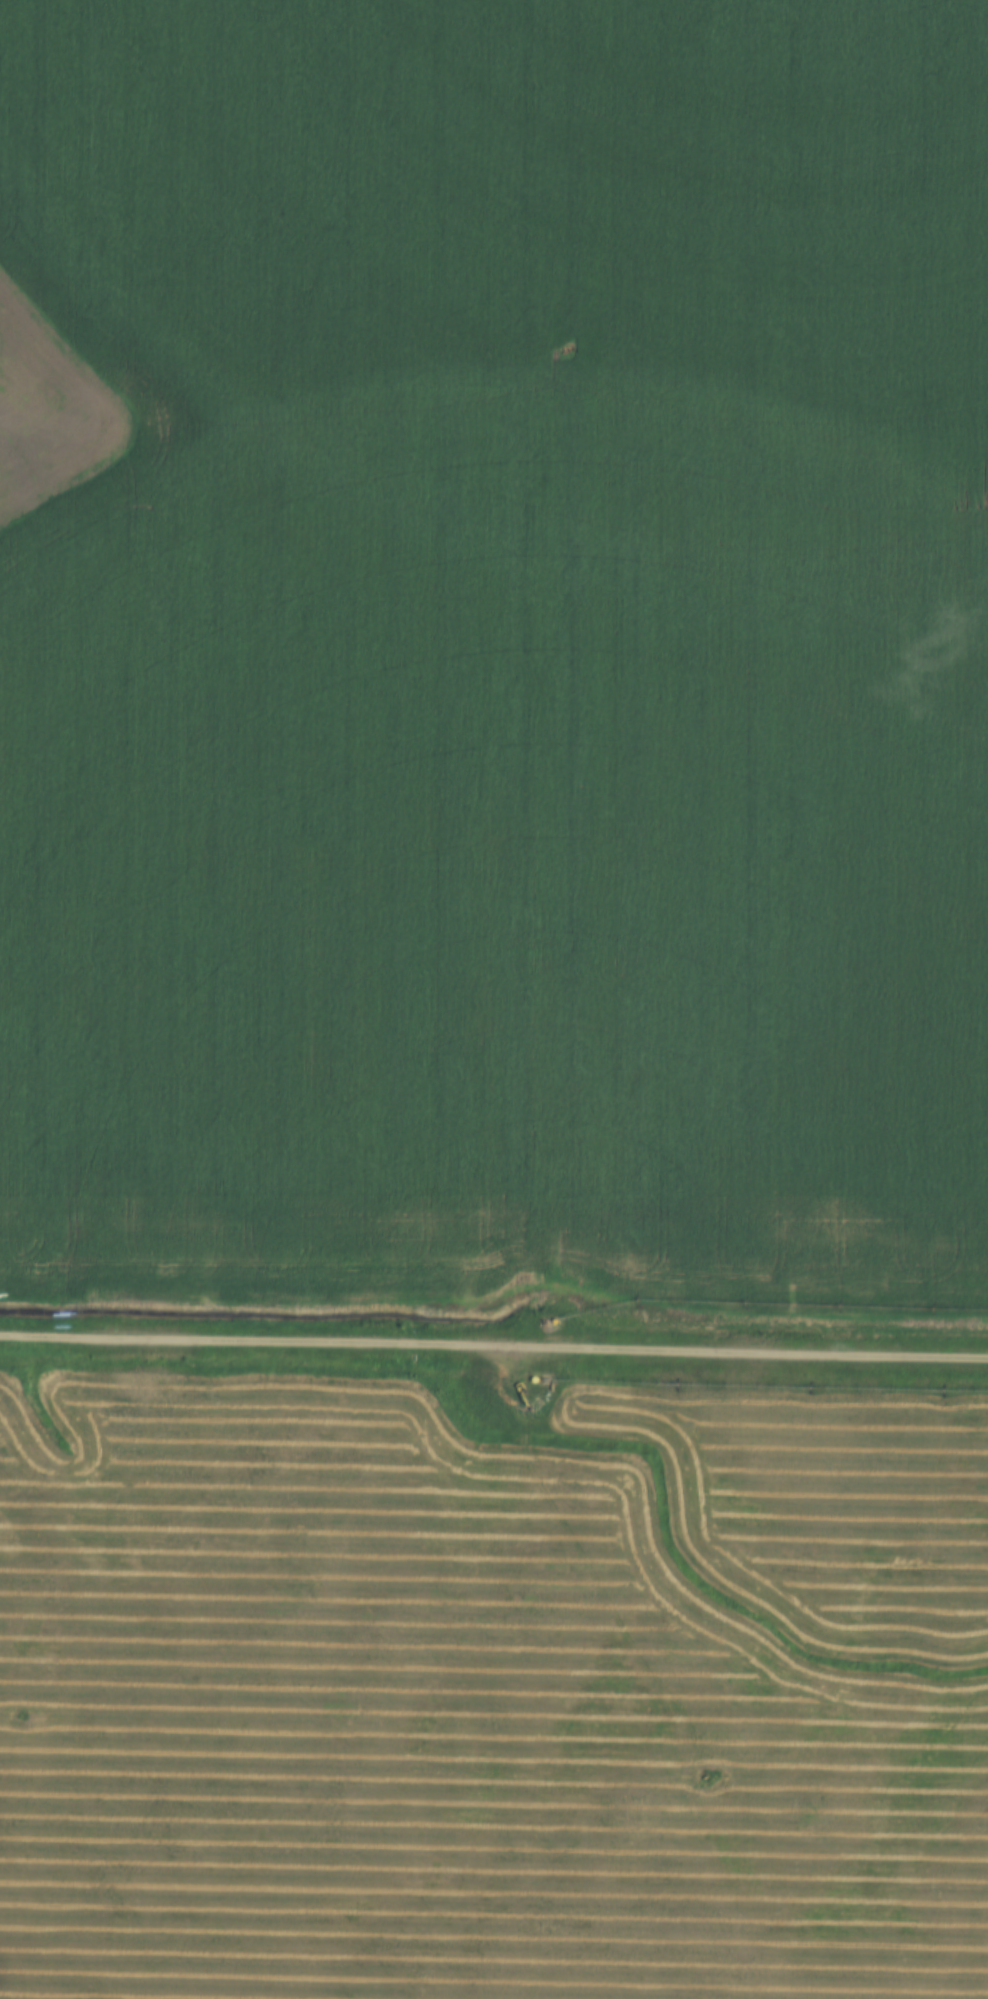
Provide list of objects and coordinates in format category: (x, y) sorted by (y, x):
road: (494, 1341)

